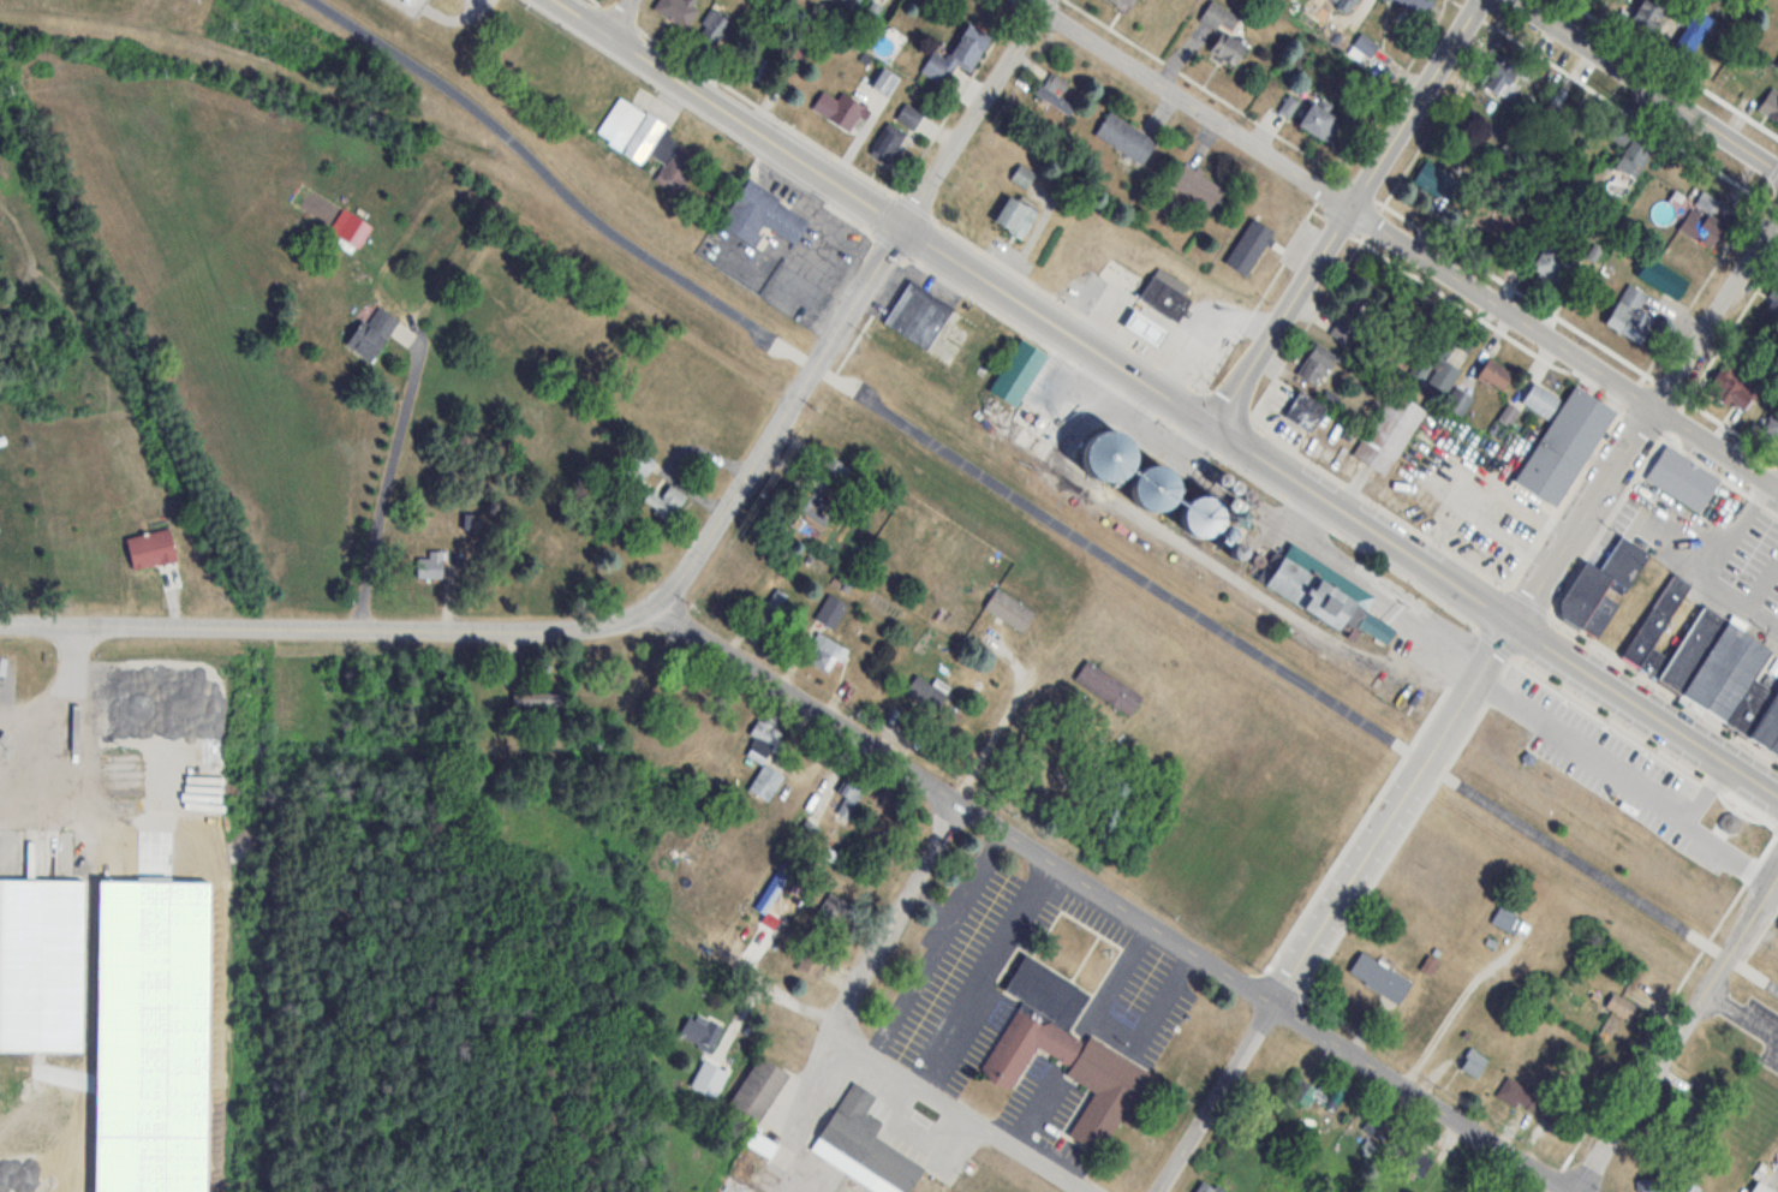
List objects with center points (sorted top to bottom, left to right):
building: (1127, 2)
building: (851, 4)
building: (1344, 4)
building: (1416, 5)
power substation: (412, 6)
building: (675, 10)
building: (1648, 14)
road: (620, 17)
building: (714, 26)
building: (1223, 31)
building: (1693, 34)
building: (961, 50)
building: (1777, 64)
building: (1500, 77)
building: (883, 82)
road: (1648, 84)
building: (1055, 91)
building: (1771, 105)
building: (1288, 106)
building: (839, 109)
road: (975, 113)
building: (908, 117)
building: (1315, 118)
building: (636, 124)
building: (1124, 137)
building: (888, 143)
building: (1631, 148)
building: (673, 173)
building: (1022, 175)
building: (1197, 186)
building: (1467, 201)
building: (762, 213)
road: (1348, 214)
building: (1014, 216)
building: (1702, 226)
building: (351, 228)
road: (1403, 244)
building: (1248, 246)
building: (1551, 262)
building: (1661, 276)
building: (1164, 293)
building: (1773, 297)
road: (1034, 311)
building: (917, 314)
building: (1630, 314)
building: (1349, 327)
building: (1144, 328)
building: (370, 334)
building: (1315, 363)
building: (1434, 363)
building: (1018, 371)
building: (1493, 374)
building: (1732, 388)
building: (1540, 399)
building: (1458, 401)
building: (1303, 411)
building: (1508, 415)
road: (1646, 417)
road: (781, 419)
building: (1772, 424)
building: (1389, 431)
building: (1563, 443)
building: (638, 466)
road: (377, 475)
building: (1217, 477)
building: (1682, 477)
building: (1148, 485)
building: (1229, 485)
building: (1242, 493)
building: (663, 501)
road: (1033, 507)
building: (1197, 513)
building: (806, 514)
building: (149, 548)
parking lot: (1710, 549)
building: (430, 566)
building: (1600, 579)
building: (1324, 594)
building: (775, 604)
building: (1009, 609)
building: (830, 610)
building: (1598, 615)
building: (1655, 619)
road: (328, 628)
building: (1692, 649)
building: (823, 651)
building: (1653, 661)
building: (1714, 663)
building: (1737, 679)
building: (1108, 687)
road: (1492, 690)
building: (924, 693)
building: (537, 698)
building: (1753, 703)
road: (1646, 709)
road: (41, 714)
building: (948, 719)
building: (1766, 723)
road: (982, 737)
building: (1773, 744)
building: (763, 757)
parking lot: (1617, 771)
road: (1622, 774)
road: (1711, 781)
building: (848, 800)
road: (963, 804)
road: (1693, 809)
building: (1726, 816)
building: (806, 832)
road: (1750, 869)
building: (774, 888)
road: (1335, 907)
building: (831, 908)
road: (895, 914)
building: (1505, 918)
building: (813, 959)
building: (41, 965)
building: (1379, 977)
building: (1621, 1006)
road: (1443, 1008)
road: (1741, 1015)
parking lot: (1762, 1029)
building: (700, 1031)
road: (1677, 1032)
building: (1063, 1051)
building: (1473, 1063)
building: (711, 1073)
building: (757, 1090)
building: (1336, 1096)
building: (1519, 1096)
road: (1424, 1097)
road: (959, 1110)
building: (1374, 1124)
building: (759, 1144)
building: (863, 1146)
building: (1416, 1156)
building: (1651, 1186)
building: (1209, 1187)
building: (1760, 1188)

